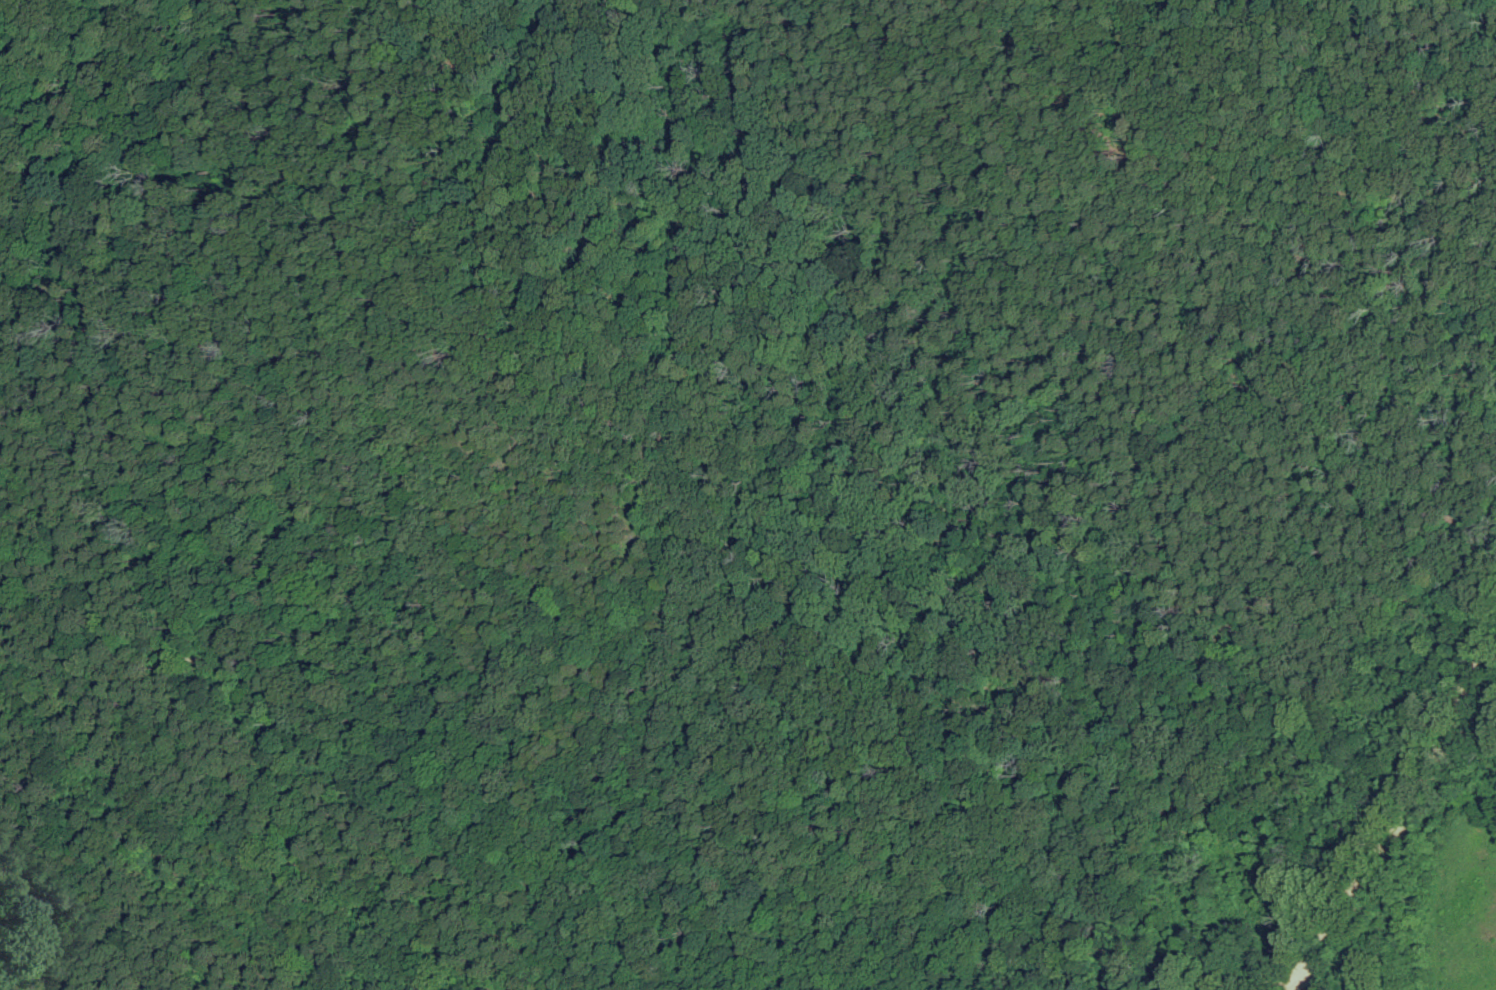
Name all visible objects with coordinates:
road: (1147, 692)
road: (138, 805)

